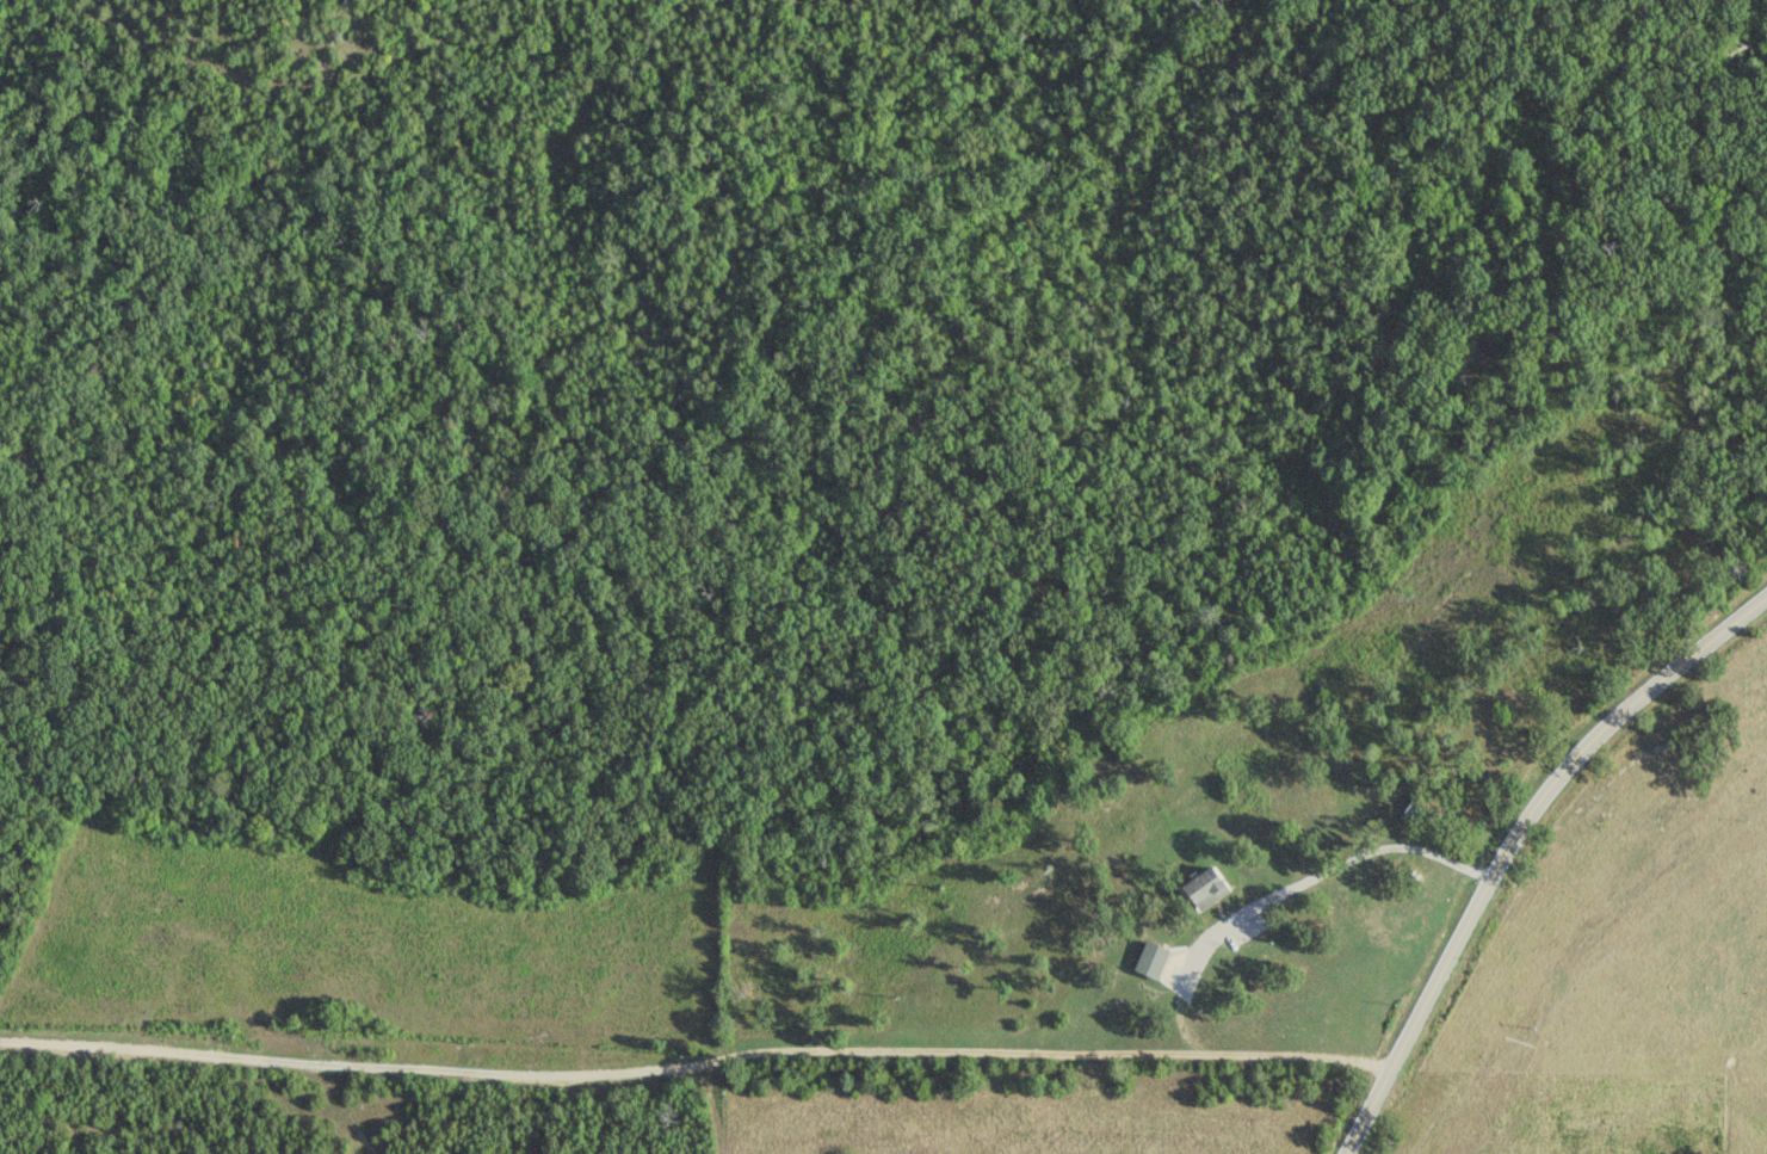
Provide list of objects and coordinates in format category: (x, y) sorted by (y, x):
road: (1508, 846)
road: (1278, 890)
building: (1153, 961)
road: (938, 1054)
road: (251, 1056)

